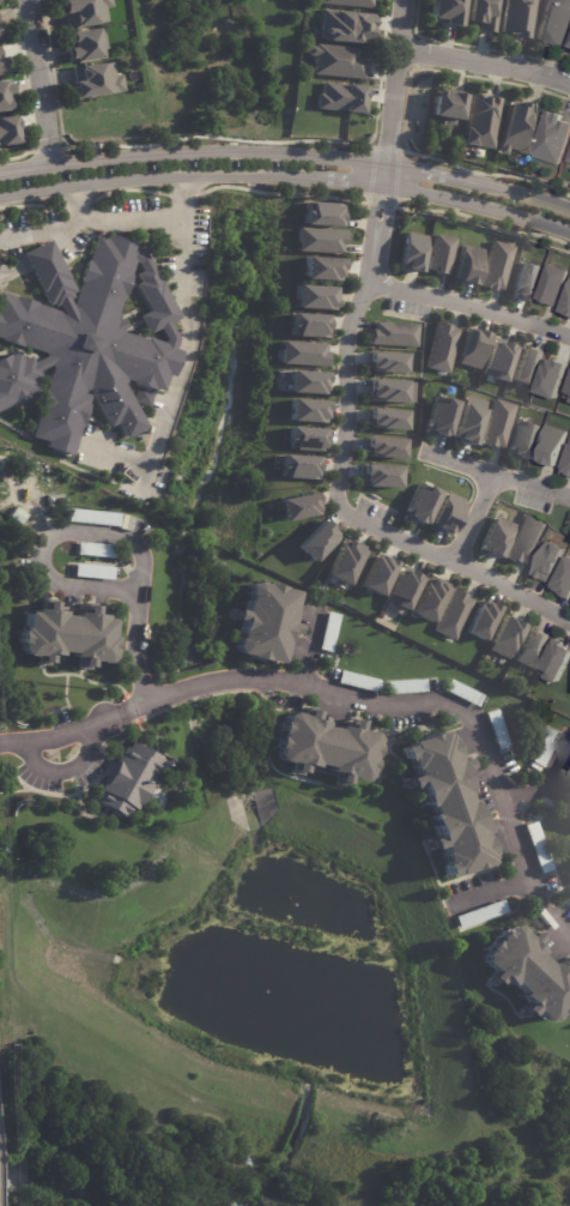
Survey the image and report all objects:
building: (351, 2)
building: (84, 11)
building: (448, 12)
building: (484, 13)
building: (519, 17)
building: (556, 23)
building: (0, 25)
building: (342, 25)
building: (0, 38)
building: (85, 44)
building: (569, 48)
building: (338, 61)
road: (485, 64)
building: (2, 65)
building: (96, 80)
road: (40, 83)
road: (395, 94)
building: (5, 96)
building: (339, 97)
building: (445, 105)
building: (479, 121)
building: (7, 129)
building: (514, 129)
building: (443, 132)
building: (553, 140)
road: (287, 155)
building: (569, 162)
road: (287, 179)
road: (181, 198)
building: (321, 213)
road: (40, 231)
road: (376, 235)
building: (319, 240)
building: (410, 252)
building: (439, 254)
building: (467, 264)
building: (496, 266)
building: (320, 267)
building: (523, 281)
building: (550, 285)
building: (314, 297)
building: (565, 301)
road: (471, 306)
road: (184, 307)
parking lot: (406, 307)
building: (307, 325)
building: (393, 333)
building: (85, 342)
building: (441, 348)
building: (471, 348)
building: (302, 352)
building: (496, 360)
building: (386, 362)
building: (526, 366)
building: (550, 379)
building: (305, 381)
building: (568, 390)
building: (390, 391)
building: (144, 398)
building: (307, 410)
building: (441, 416)
building: (386, 418)
building: (468, 420)
building: (497, 423)
building: (304, 438)
building: (521, 439)
building: (550, 446)
building: (383, 447)
building: (565, 463)
building: (297, 466)
road: (497, 475)
building: (380, 476)
parking lot: (532, 502)
building: (420, 503)
building: (297, 506)
parking lot: (374, 511)
building: (447, 513)
road: (351, 515)
building: (93, 518)
road: (473, 519)
road: (108, 533)
building: (495, 536)
building: (523, 539)
building: (316, 541)
building: (95, 550)
building: (342, 561)
building: (546, 562)
building: (93, 573)
building: (376, 574)
building: (563, 580)
building: (401, 587)
building: (427, 598)
building: (451, 614)
building: (480, 620)
building: (265, 623)
building: (331, 632)
road: (310, 633)
building: (65, 637)
building: (503, 637)
building: (529, 649)
building: (553, 661)
road: (304, 662)
building: (358, 682)
building: (407, 687)
building: (463, 693)
road: (419, 704)
building: (498, 731)
road: (65, 736)
building: (325, 746)
building: (546, 748)
road: (65, 770)
building: (568, 776)
building: (128, 779)
building: (569, 782)
road: (546, 783)
building: (448, 801)
building: (568, 812)
building: (539, 849)
building: (569, 882)
road: (486, 890)
building: (481, 913)
building: (528, 972)
park: (128, 1135)

